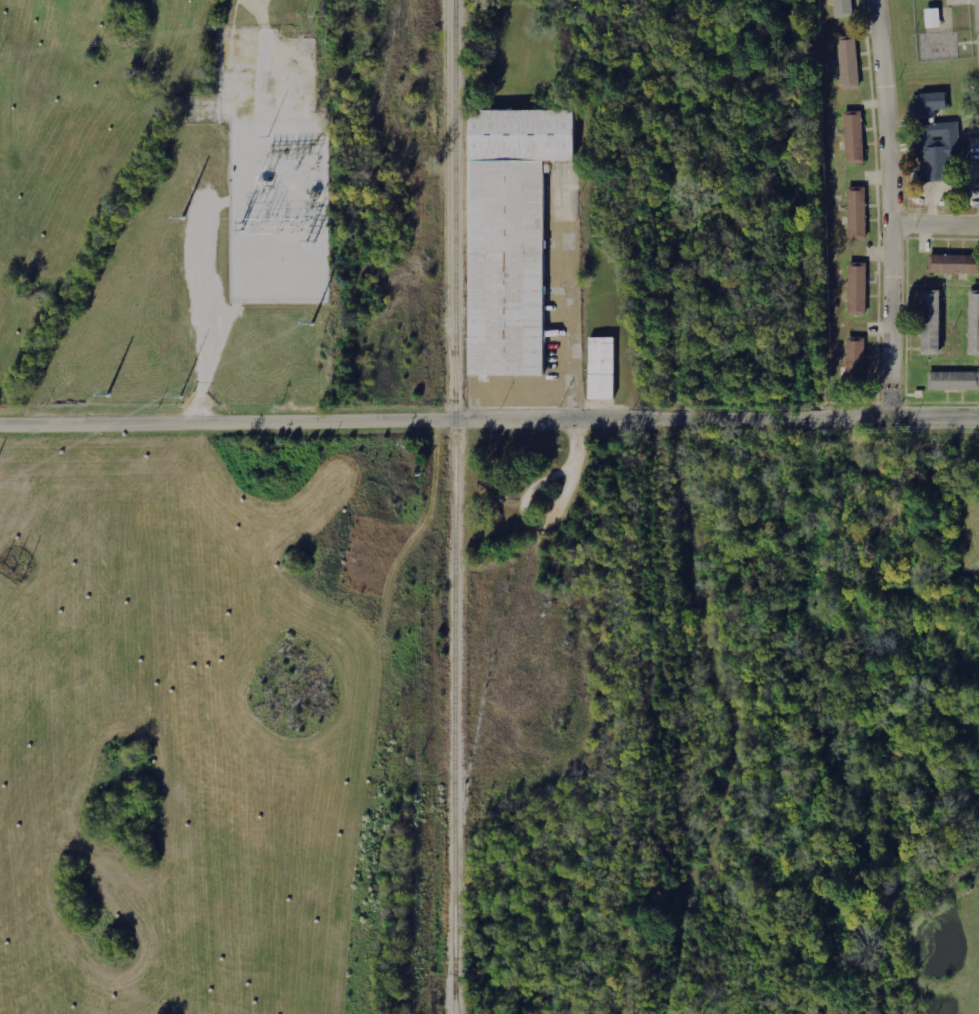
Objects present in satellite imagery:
road: (875, 3)
building: (842, 8)
building: (932, 17)
building: (848, 61)
building: (929, 104)
building: (854, 137)
building: (938, 148)
power substation: (273, 165)
road: (887, 211)
building: (856, 213)
road: (933, 226)
building: (509, 235)
building: (952, 264)
building: (857, 288)
building: (929, 322)
building: (973, 322)
building: (856, 358)
building: (601, 368)
building: (953, 381)
power tower: (109, 390)
road: (489, 419)
railway: (452, 494)
railway: (453, 1001)
railway: (455, 1001)

